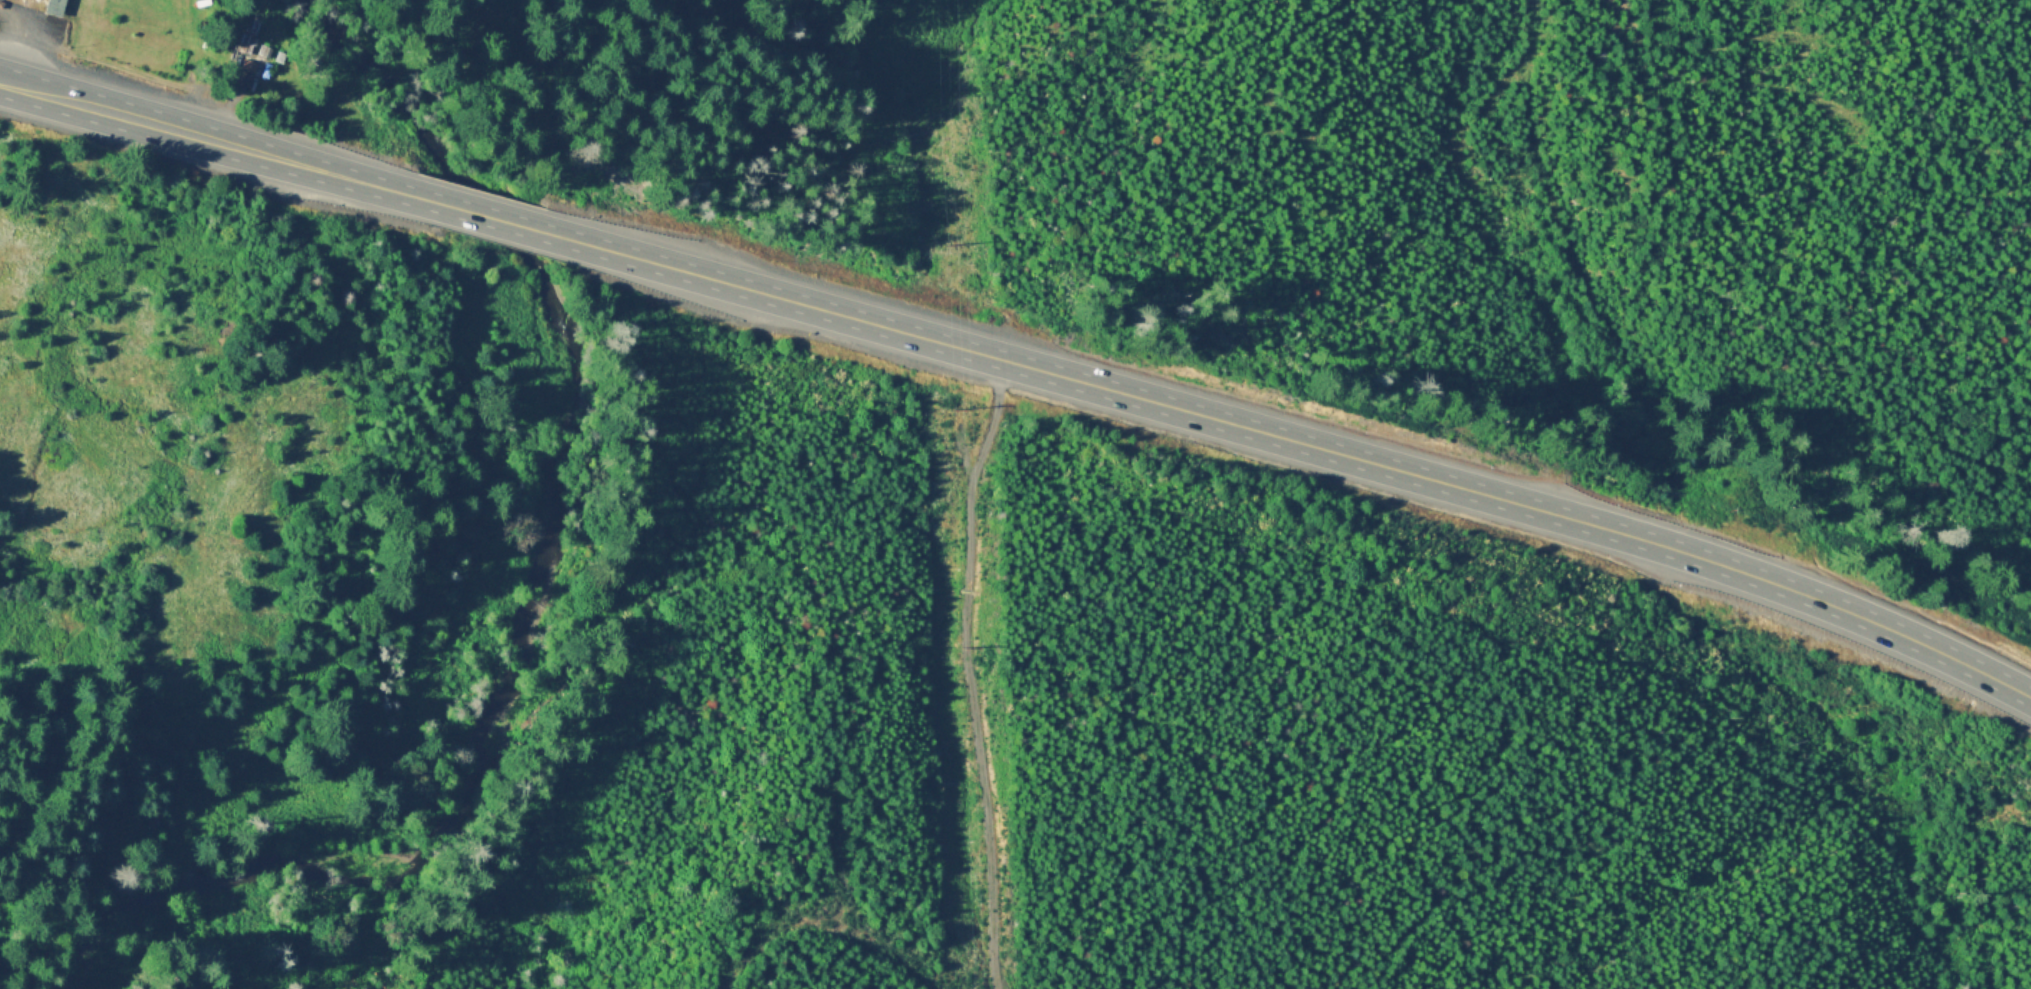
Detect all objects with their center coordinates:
building: (56, 5)
road: (36, 85)
road: (238, 143)
road: (472, 211)
road: (1294, 440)
river: (514, 605)
road: (972, 671)
road: (823, 919)

